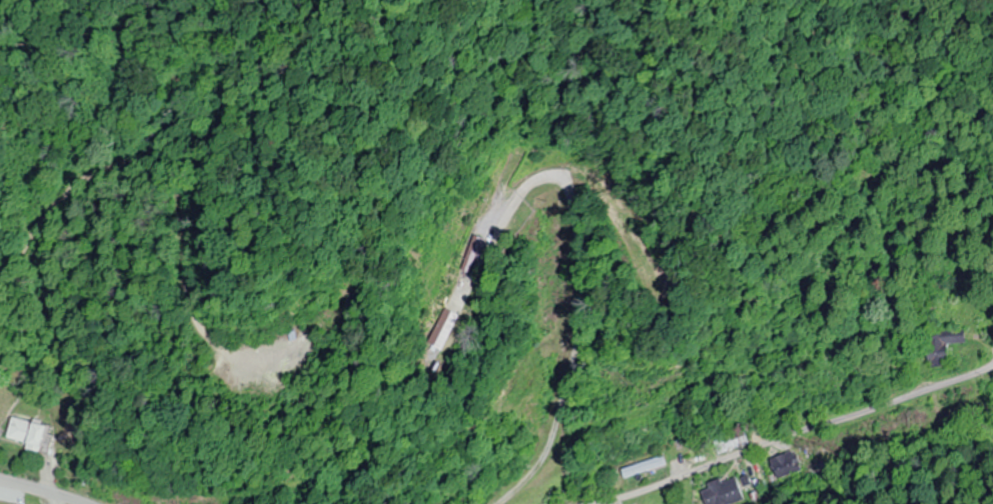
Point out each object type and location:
building: (443, 330)
building: (941, 345)
road: (811, 431)
building: (28, 434)
building: (732, 436)
building: (787, 464)
building: (642, 467)
building: (824, 472)
road: (30, 492)
building: (725, 492)

